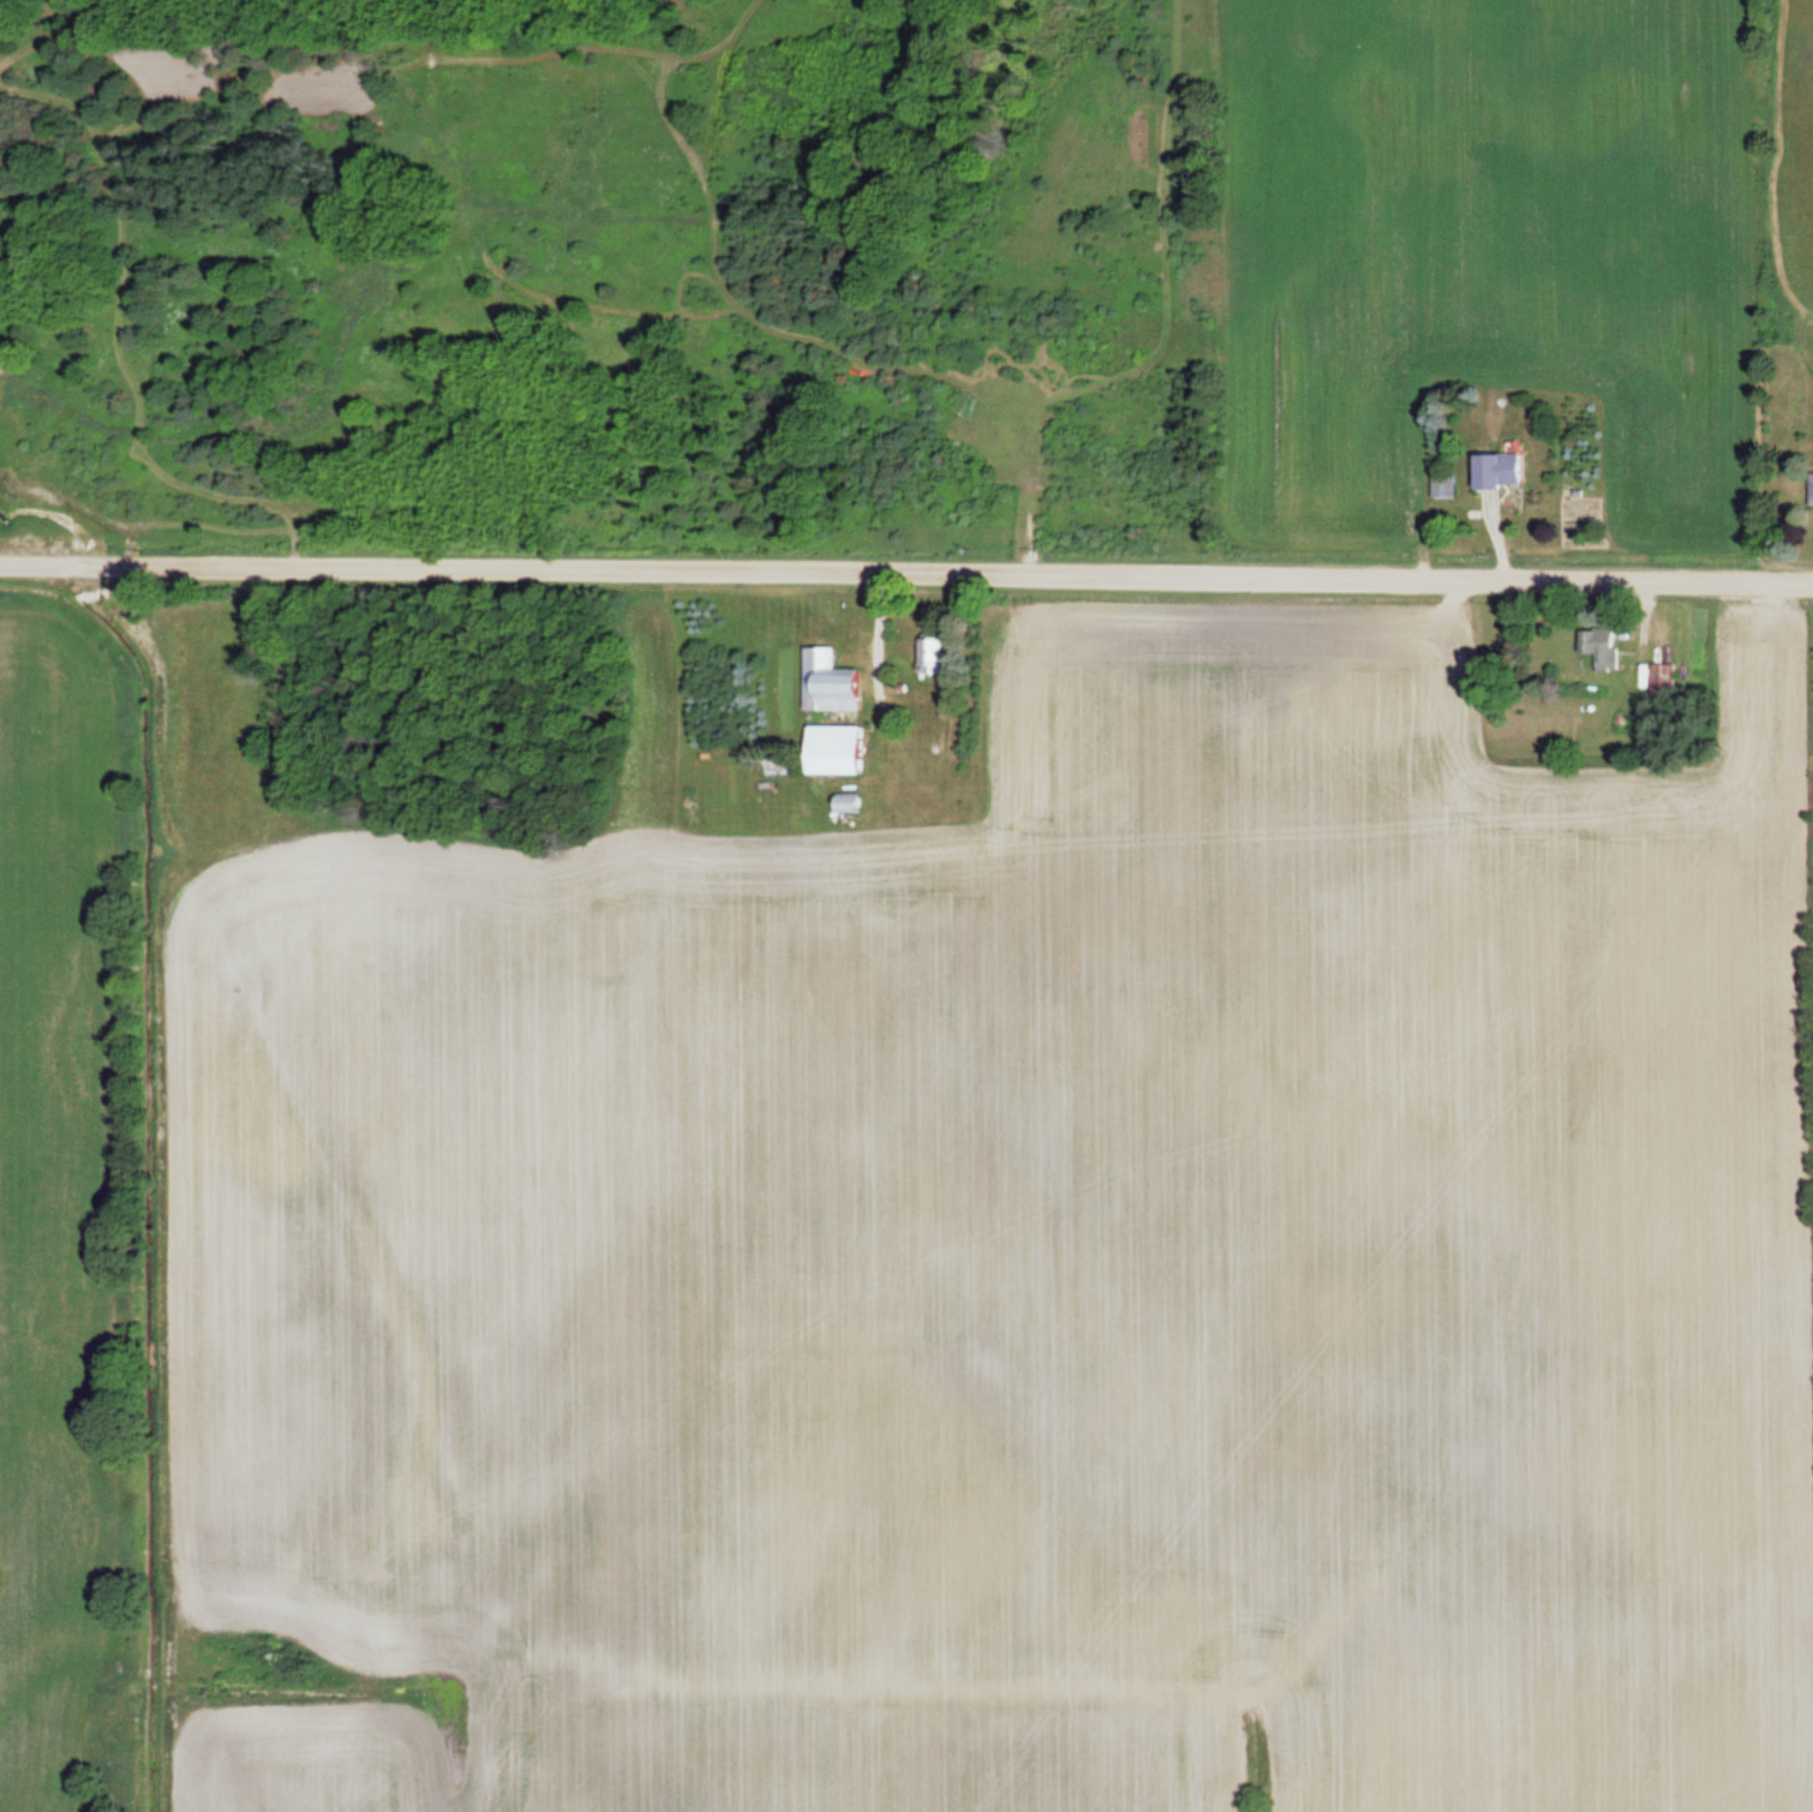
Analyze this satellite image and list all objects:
building: (1494, 470)
building: (1442, 486)
building: (1809, 486)
road: (906, 572)
building: (1598, 645)
building: (928, 654)
building: (1662, 678)
building: (826, 681)
building: (844, 765)
building: (843, 802)

